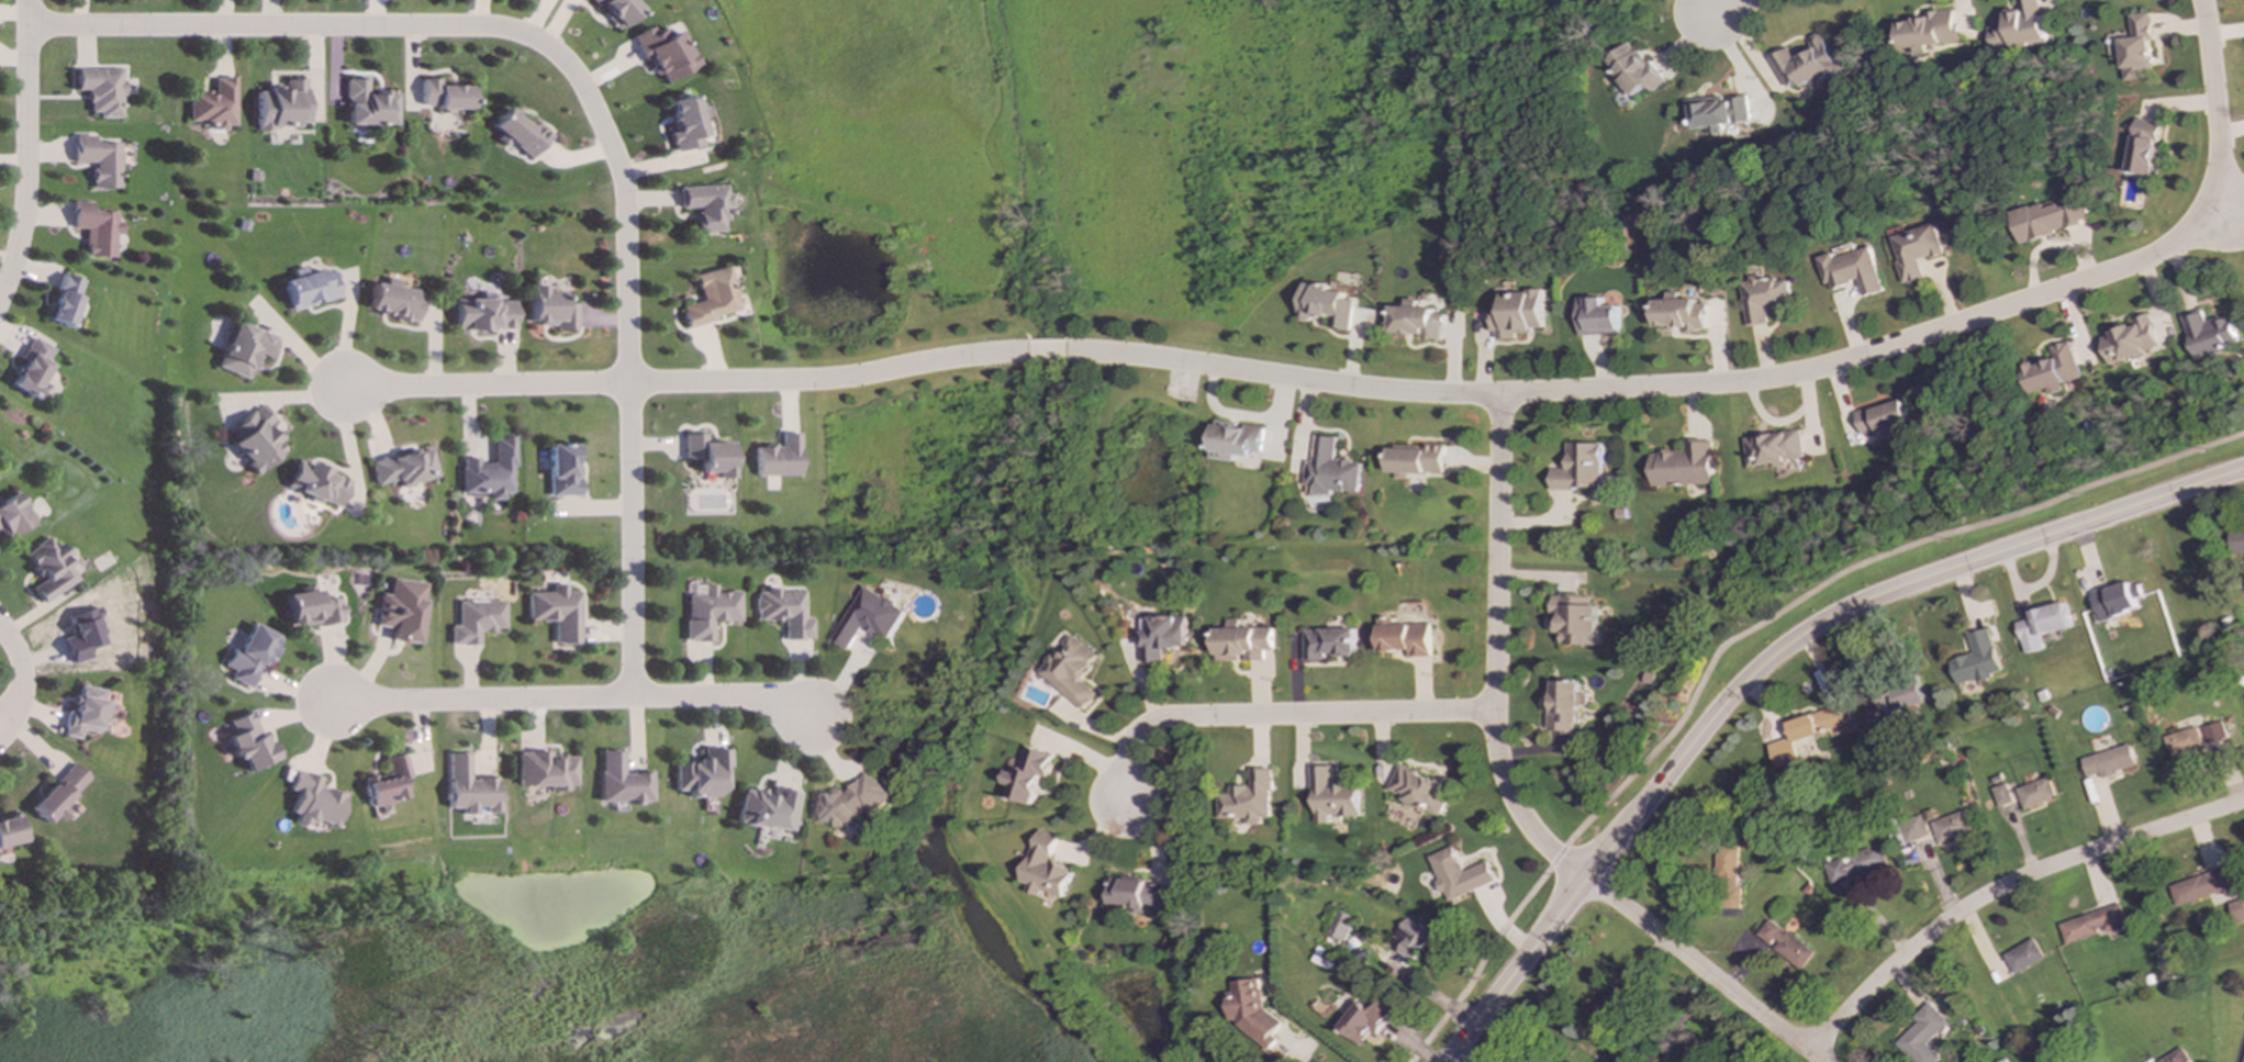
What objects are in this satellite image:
road: (1719, 4)
building: (616, 10)
building: (2018, 27)
building: (1928, 31)
building: (2136, 48)
building: (662, 52)
building: (1807, 64)
building: (1633, 69)
building: (102, 91)
building: (444, 96)
road: (599, 98)
building: (214, 104)
building: (282, 104)
building: (369, 104)
building: (1716, 112)
building: (685, 123)
building: (520, 133)
road: (24, 148)
building: (100, 160)
building: (706, 205)
building: (2046, 220)
building: (97, 228)
building: (1914, 250)
building: (1850, 271)
building: (310, 288)
building: (710, 298)
building: (1763, 298)
building: (393, 300)
building: (67, 301)
building: (1327, 305)
building: (549, 309)
building: (1516, 313)
building: (1677, 313)
building: (483, 314)
building: (1596, 317)
building: (1416, 321)
building: (2209, 333)
building: (2129, 340)
building: (245, 349)
building: (34, 368)
building: (2051, 370)
road: (483, 385)
road: (1537, 392)
building: (1880, 417)
building: (255, 440)
building: (1237, 440)
building: (1772, 448)
building: (706, 455)
building: (777, 458)
building: (1415, 459)
building: (1681, 466)
building: (404, 468)
building: (1578, 468)
building: (1331, 469)
building: (489, 471)
building: (561, 471)
building: (316, 484)
building: (14, 515)
building: (2237, 541)
building: (49, 569)
building: (2117, 600)
building: (312, 610)
building: (403, 611)
building: (710, 612)
building: (784, 612)
building: (557, 613)
building: (870, 618)
building: (1573, 619)
building: (478, 621)
building: (2042, 625)
road: (1740, 634)
building: (83, 635)
building: (1402, 637)
building: (1164, 638)
building: (1242, 641)
building: (1328, 642)
building: (249, 656)
building: (1977, 660)
road: (1767, 661)
building: (1072, 671)
road: (23, 675)
road: (577, 692)
building: (1899, 694)
building: (1562, 705)
building: (86, 711)
road: (1275, 714)
building: (1818, 723)
building: (2215, 731)
building: (247, 741)
building: (2184, 741)
building: (1782, 752)
building: (2110, 761)
building: (548, 770)
building: (703, 773)
building: (1029, 776)
building: (623, 781)
building: (387, 782)
building: (470, 787)
building: (1418, 790)
building: (2035, 792)
building: (59, 794)
building: (1332, 794)
building: (1248, 798)
road: (1509, 800)
building: (313, 801)
building: (848, 803)
building: (766, 809)
building: (1935, 827)
building: (10, 831)
building: (1854, 864)
building: (1047, 869)
building: (1459, 874)
building: (1726, 875)
road: (2001, 886)
building: (2200, 886)
building: (1138, 894)
building: (2239, 909)
building: (2092, 924)
building: (1339, 927)
building: (1410, 938)
building: (1783, 943)
building: (2023, 955)
building: (1600, 1008)
building: (1250, 1010)
building: (1364, 1020)
building: (1920, 1036)
building: (1693, 1051)
building: (2176, 1057)
road: (1302, 1059)
building: (2147, 1061)
building: (2148, 1061)
building: (2243, 1061)

